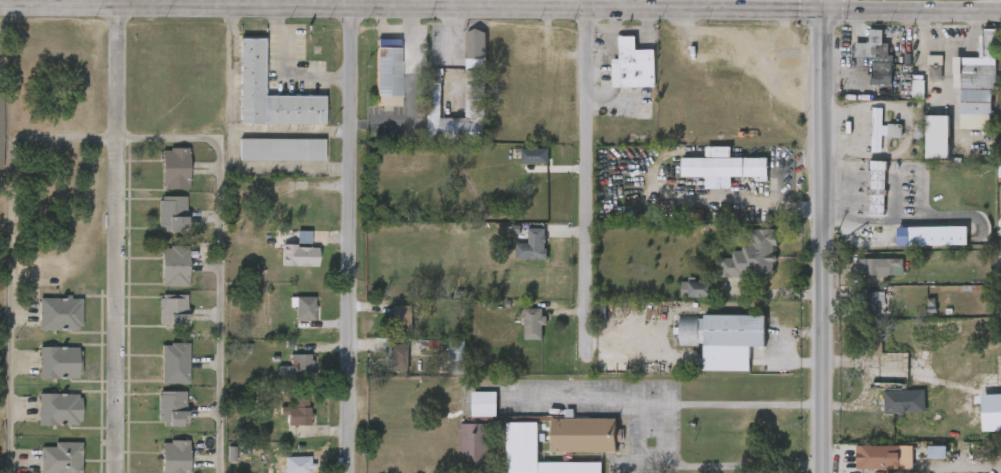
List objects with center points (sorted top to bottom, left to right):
road: (288, 1)
road: (243, 3)
road: (99, 4)
road: (822, 5)
road: (498, 6)
road: (765, 10)
traffic signals: (822, 11)
road: (911, 13)
road: (617, 20)
road: (616, 32)
road: (900, 37)
road: (972, 38)
building: (989, 42)
building: (869, 43)
building: (476, 45)
road: (949, 50)
road: (845, 52)
road: (455, 57)
building: (633, 65)
building: (251, 66)
building: (999, 66)
building: (935, 68)
road: (284, 69)
road: (230, 70)
building: (882, 72)
building: (388, 73)
building: (918, 90)
building: (976, 92)
building: (475, 100)
building: (0, 130)
building: (881, 130)
road: (114, 135)
building: (937, 136)
building: (280, 149)
road: (230, 150)
building: (534, 155)
building: (999, 160)
building: (175, 167)
building: (725, 167)
road: (585, 178)
building: (0, 190)
building: (877, 192)
building: (1000, 199)
road: (762, 203)
building: (172, 214)
road: (119, 236)
road: (354, 236)
building: (932, 236)
road: (822, 242)
building: (533, 244)
building: (753, 255)
building: (303, 256)
building: (175, 265)
building: (881, 266)
building: (695, 289)
building: (873, 304)
building: (173, 312)
building: (60, 313)
building: (301, 314)
building: (400, 318)
building: (533, 323)
building: (724, 337)
building: (456, 350)
building: (397, 357)
building: (59, 361)
building: (175, 362)
building: (300, 363)
road: (592, 400)
building: (900, 401)
building: (484, 403)
building: (172, 408)
building: (59, 409)
building: (299, 409)
building: (991, 413)
building: (586, 434)
road: (662, 434)
building: (475, 444)
building: (937, 452)
building: (537, 453)
building: (175, 456)
building: (60, 457)
building: (876, 458)
building: (295, 462)

